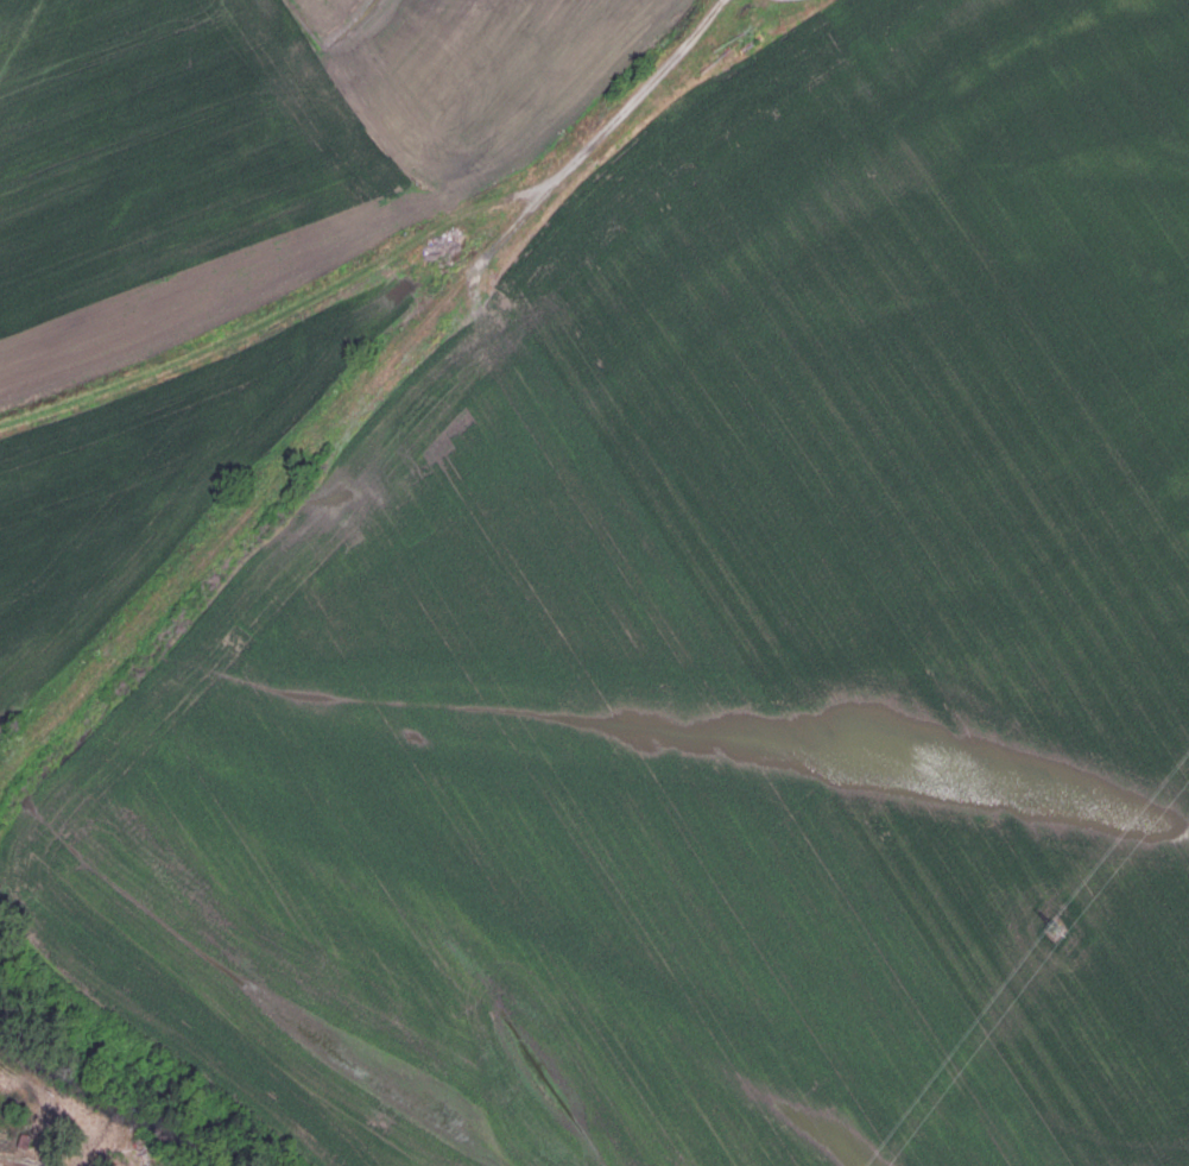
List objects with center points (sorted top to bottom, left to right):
crop: (257, 145)
crop: (138, 481)
crop: (717, 660)
power tower: (1068, 928)
road: (25, 1159)

